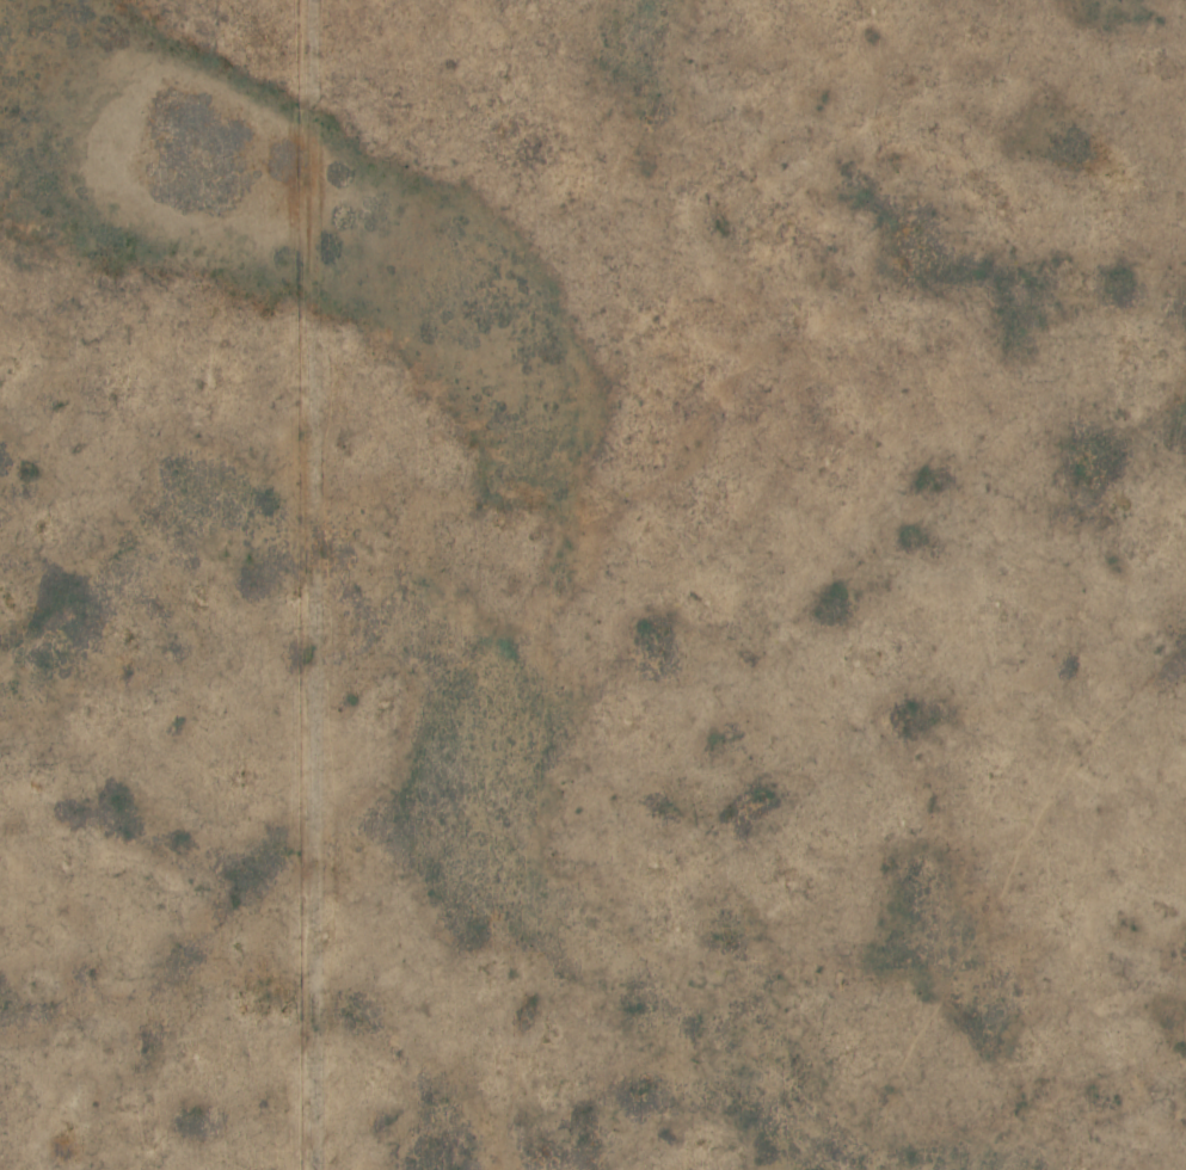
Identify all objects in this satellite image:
road: (186, 1039)

